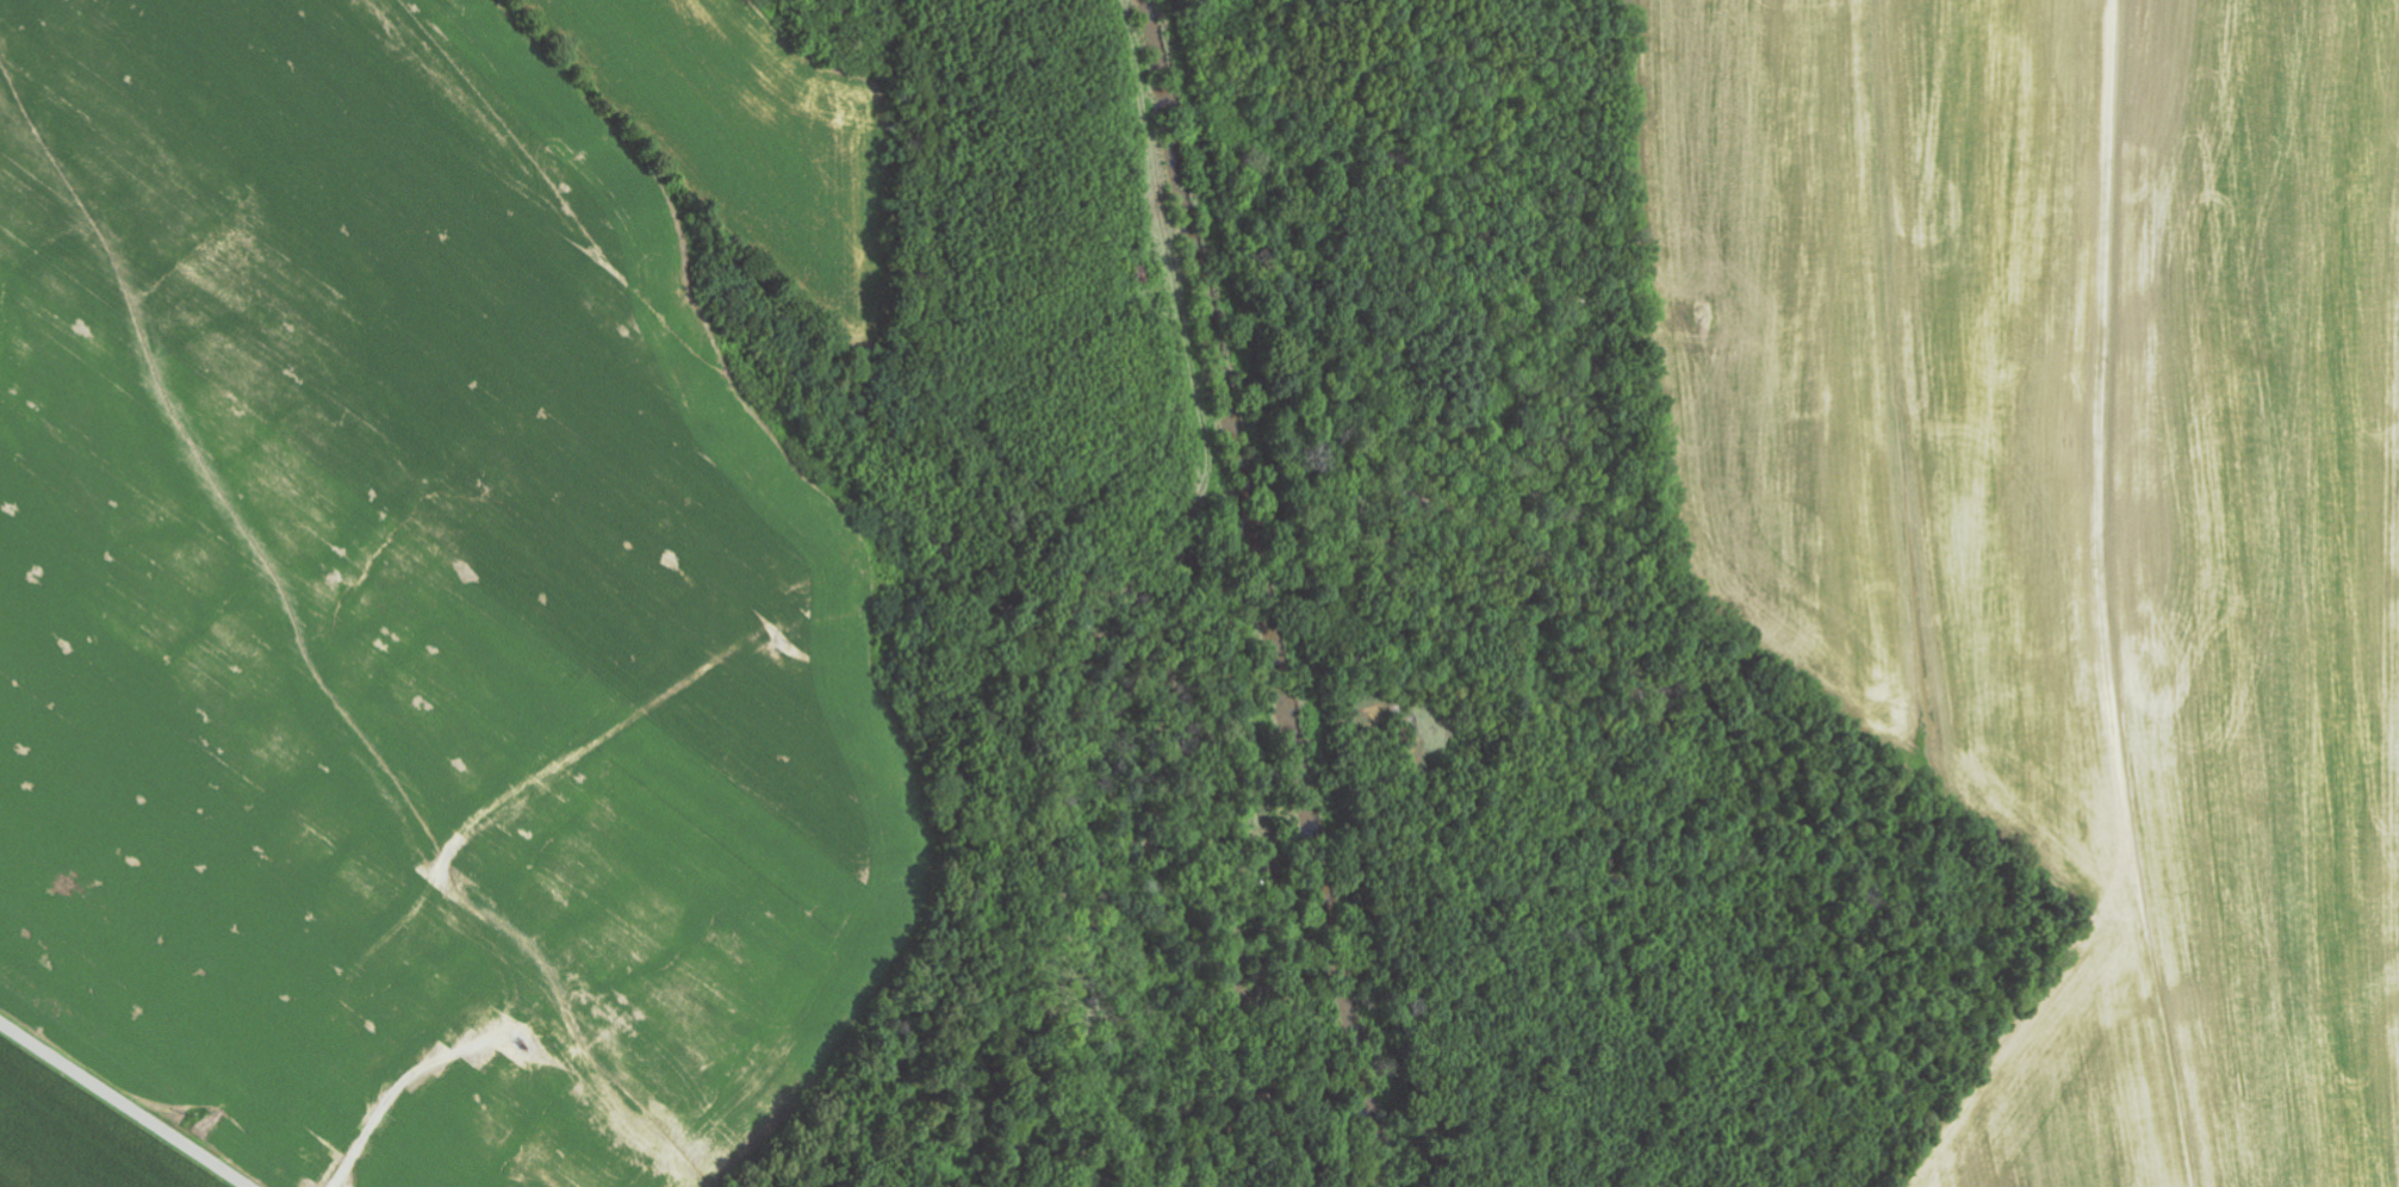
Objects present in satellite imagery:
road: (125, 1104)

